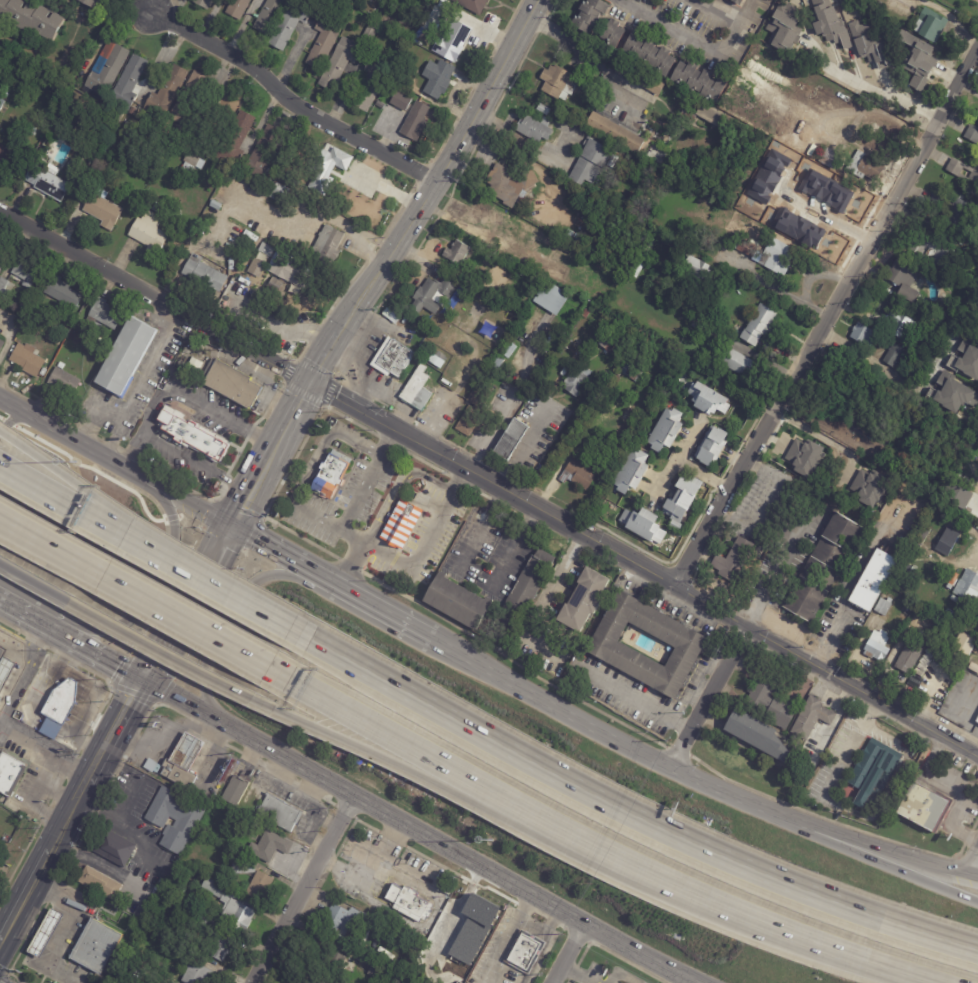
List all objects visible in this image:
building: (738, 1)
building: (868, 1)
building: (91, 3)
building: (202, 3)
road: (162, 5)
building: (472, 5)
building: (237, 9)
building: (590, 14)
building: (268, 16)
building: (29, 19)
building: (873, 21)
building: (829, 24)
road: (240, 25)
building: (287, 25)
building: (931, 25)
building: (784, 26)
building: (611, 32)
building: (368, 33)
building: (417, 38)
park: (71, 41)
building: (323, 42)
building: (451, 42)
building: (870, 46)
road: (706, 48)
building: (409, 52)
building: (648, 52)
road: (163, 54)
road: (589, 56)
building: (427, 58)
building: (916, 59)
road: (289, 60)
building: (902, 61)
building: (339, 63)
building: (404, 64)
building: (104, 72)
building: (397, 75)
building: (641, 76)
building: (699, 80)
building: (558, 81)
building: (128, 83)
building: (371, 83)
building: (436, 83)
road: (875, 89)
building: (165, 93)
road: (341, 96)
road: (288, 99)
building: (182, 102)
building: (1, 104)
building: (227, 108)
building: (404, 108)
building: (543, 109)
building: (792, 109)
road: (874, 110)
building: (709, 113)
road: (264, 114)
building: (555, 114)
building: (415, 122)
building: (533, 127)
building: (614, 131)
building: (972, 134)
building: (0, 139)
building: (235, 140)
building: (49, 152)
building: (5, 154)
building: (829, 157)
building: (613, 158)
building: (264, 160)
building: (191, 161)
building: (589, 162)
building: (865, 165)
building: (326, 169)
road: (442, 169)
building: (973, 175)
building: (45, 184)
building: (509, 184)
building: (826, 187)
building: (724, 206)
building: (158, 210)
building: (102, 211)
building: (951, 211)
building: (484, 216)
road: (827, 217)
parking lot: (251, 221)
road: (286, 230)
building: (149, 234)
building: (950, 238)
building: (499, 243)
building: (919, 243)
building: (325, 246)
building: (747, 246)
building: (1, 247)
building: (1, 251)
building: (266, 251)
building: (457, 253)
building: (558, 253)
building: (943, 255)
building: (777, 256)
building: (636, 264)
building: (0, 267)
building: (695, 267)
building: (285, 269)
building: (521, 271)
road: (176, 272)
building: (24, 274)
building: (202, 275)
building: (902, 277)
building: (274, 284)
building: (3, 290)
building: (60, 294)
building: (433, 296)
building: (550, 297)
building: (22, 307)
building: (477, 310)
building: (586, 313)
building: (103, 315)
road: (826, 317)
parking lot: (265, 319)
road: (217, 323)
building: (900, 324)
building: (699, 325)
building: (759, 325)
building: (97, 329)
road: (323, 331)
building: (863, 334)
building: (932, 334)
building: (603, 341)
building: (98, 344)
building: (1, 345)
building: (508, 350)
building: (892, 355)
building: (126, 358)
building: (392, 358)
building: (968, 359)
gas station: (391, 360)
road: (868, 360)
building: (733, 361)
building: (25, 362)
building: (498, 362)
building: (193, 367)
building: (620, 372)
building: (576, 380)
building: (63, 381)
traffic signals: (309, 381)
road: (134, 389)
building: (227, 389)
building: (417, 389)
building: (954, 393)
building: (480, 397)
road: (512, 397)
building: (707, 399)
road: (150, 404)
road: (224, 417)
building: (469, 421)
road: (282, 429)
building: (665, 429)
road: (114, 433)
building: (191, 434)
road: (817, 435)
building: (511, 440)
road: (75, 441)
road: (359, 442)
road: (523, 446)
building: (713, 446)
road: (133, 452)
building: (796, 452)
road: (195, 463)
road: (676, 463)
building: (629, 471)
road: (405, 473)
building: (580, 473)
building: (330, 474)
road: (703, 476)
road: (488, 482)
building: (969, 484)
road: (299, 487)
building: (868, 487)
road: (359, 489)
road: (79, 492)
building: (956, 495)
building: (681, 500)
road: (190, 505)
road: (79, 510)
building: (401, 523)
building: (642, 524)
traffic signals: (229, 527)
road: (476, 529)
parking lot: (54, 530)
road: (371, 530)
building: (947, 542)
road: (270, 549)
road: (512, 549)
building: (734, 561)
road: (415, 566)
building: (822, 568)
building: (873, 581)
road: (30, 583)
building: (968, 586)
road: (146, 587)
road: (766, 590)
road: (234, 597)
building: (520, 597)
building: (584, 600)
building: (457, 602)
road: (545, 603)
road: (142, 604)
road: (372, 606)
building: (883, 606)
road: (26, 616)
road: (229, 620)
road: (12, 628)
building: (940, 636)
road: (830, 639)
road: (36, 640)
building: (686, 645)
building: (877, 646)
building: (911, 653)
road: (164, 656)
road: (98, 657)
road: (81, 665)
building: (4, 666)
gas station: (4, 666)
road: (25, 673)
traffic signals: (143, 683)
road: (140, 687)
road: (135, 694)
building: (62, 696)
road: (707, 699)
road: (646, 706)
road: (172, 708)
building: (25, 713)
building: (763, 720)
building: (977, 720)
building: (811, 721)
road: (207, 729)
road: (166, 735)
building: (829, 735)
road: (46, 742)
road: (619, 744)
road: (848, 746)
building: (182, 761)
road: (388, 761)
building: (9, 773)
road: (279, 774)
building: (873, 774)
building: (782, 785)
building: (236, 790)
building: (923, 808)
road: (344, 811)
building: (280, 812)
building: (174, 818)
building: (882, 818)
road: (632, 820)
road: (366, 824)
road: (127, 829)
road: (417, 832)
road: (391, 839)
building: (113, 847)
building: (268, 848)
road: (598, 852)
road: (896, 854)
road: (98, 862)
road: (434, 862)
road: (973, 865)
building: (242, 867)
road: (895, 869)
road: (406, 873)
road: (370, 874)
building: (99, 882)
building: (258, 885)
road: (477, 885)
road: (302, 889)
road: (26, 894)
road: (504, 896)
building: (408, 902)
building: (231, 905)
road: (526, 906)
building: (185, 908)
road: (540, 913)
building: (200, 919)
building: (341, 919)
road: (552, 920)
road: (552, 920)
road: (562, 927)
road: (66, 929)
building: (43, 931)
gas station: (43, 931)
road: (577, 935)
road: (509, 938)
road: (546, 942)
building: (94, 944)
building: (451, 944)
building: (220, 946)
building: (526, 951)
road: (568, 953)
road: (626, 961)
building: (336, 962)
building: (194, 972)
building: (382, 974)
building: (170, 981)

